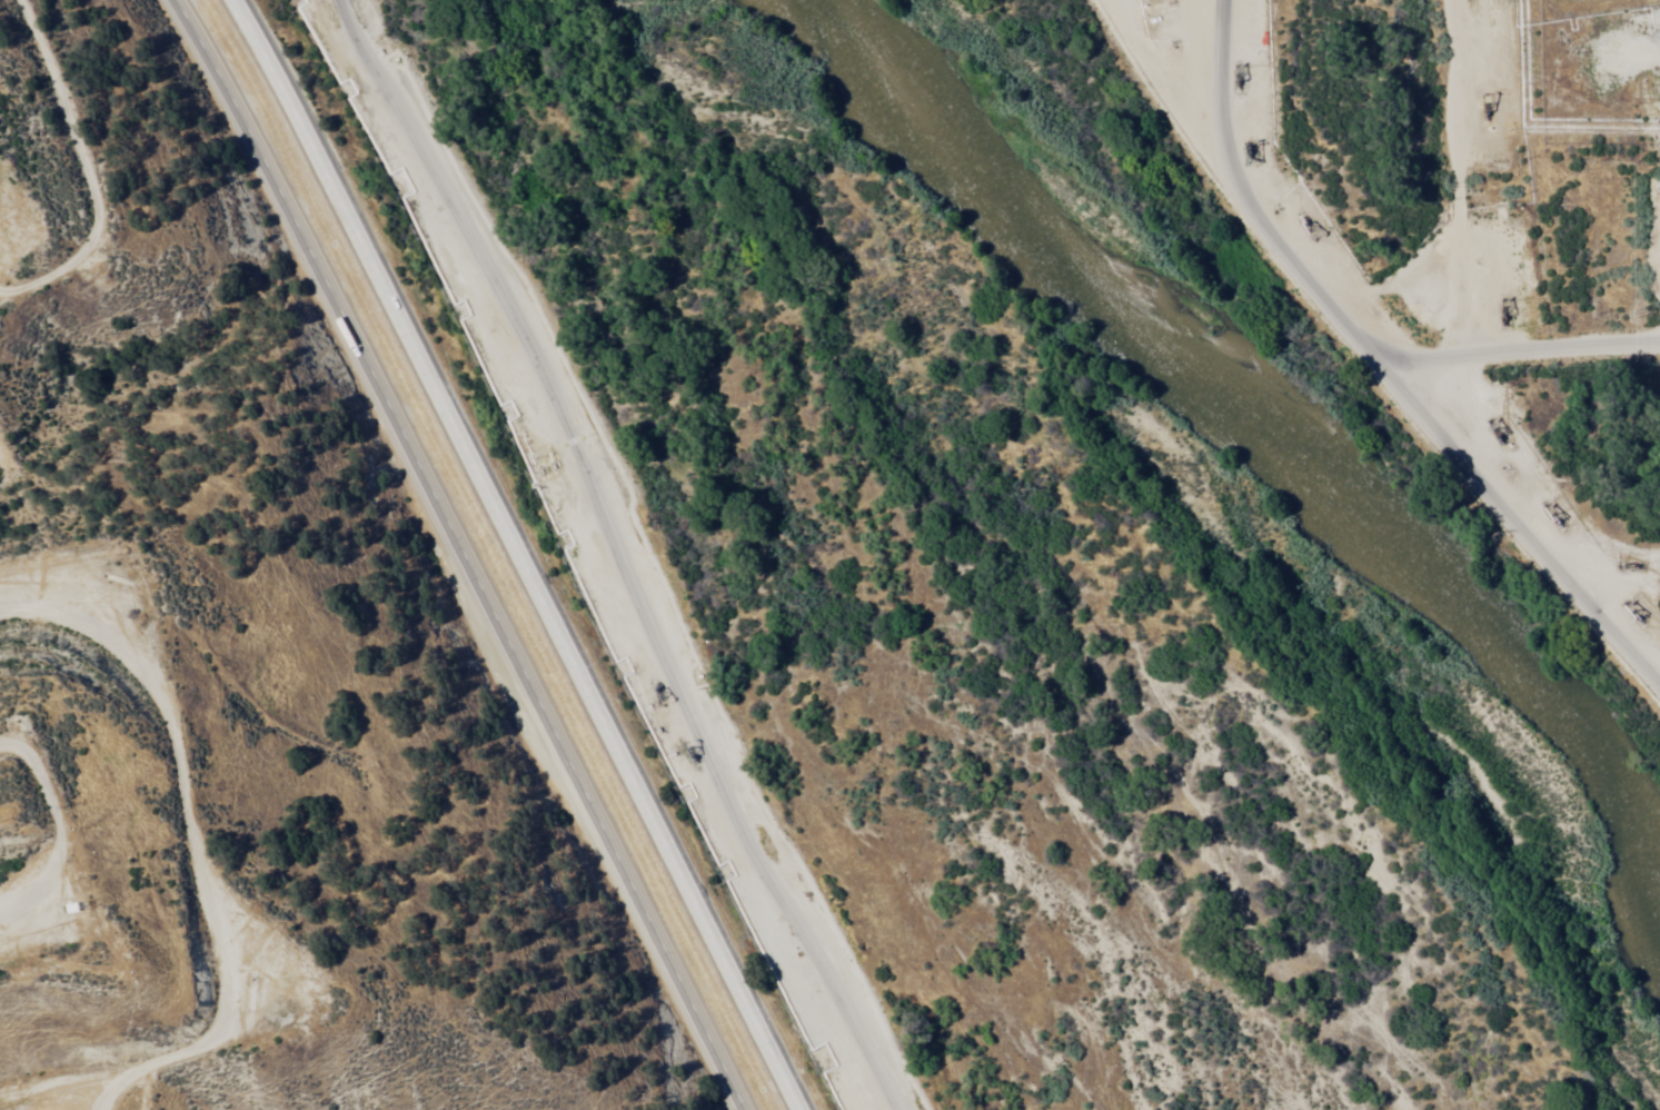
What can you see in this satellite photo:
road: (1219, 32)
road: (1141, 43)
road: (1459, 172)
road: (17, 208)
road: (1520, 345)
road: (1404, 388)
river: (1259, 462)
road: (460, 552)
road: (521, 552)
road: (624, 555)
road: (1659, 675)
road: (1659, 680)
road: (175, 918)

